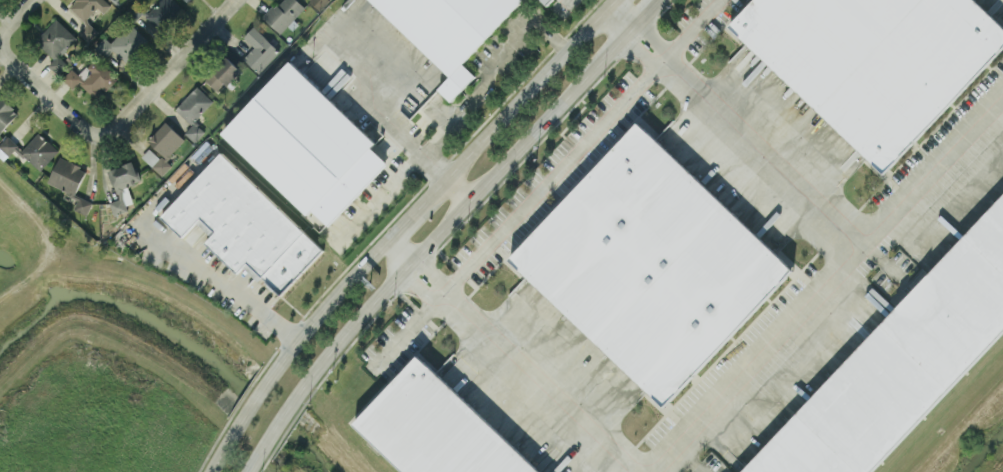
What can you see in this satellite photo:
building: (115, 0)
building: (187, 0)
building: (546, 1)
building: (318, 3)
road: (608, 3)
road: (564, 4)
road: (649, 7)
building: (164, 12)
building: (87, 13)
building: (284, 13)
road: (11, 19)
road: (616, 19)
building: (448, 30)
building: (128, 42)
building: (56, 44)
building: (259, 49)
building: (874, 60)
road: (167, 65)
road: (490, 72)
building: (222, 73)
building: (92, 77)
road: (44, 94)
building: (194, 110)
building: (5, 113)
road: (747, 139)
building: (306, 143)
building: (8, 144)
building: (162, 147)
road: (577, 147)
building: (39, 150)
road: (421, 153)
building: (66, 175)
building: (122, 184)
road: (436, 186)
road: (456, 188)
road: (378, 197)
road: (467, 200)
building: (81, 204)
building: (244, 224)
building: (651, 263)
road: (220, 282)
road: (827, 288)
road: (407, 332)
road: (507, 357)
building: (901, 363)
road: (253, 398)
road: (279, 423)
building: (435, 428)
road: (221, 448)
road: (254, 463)

